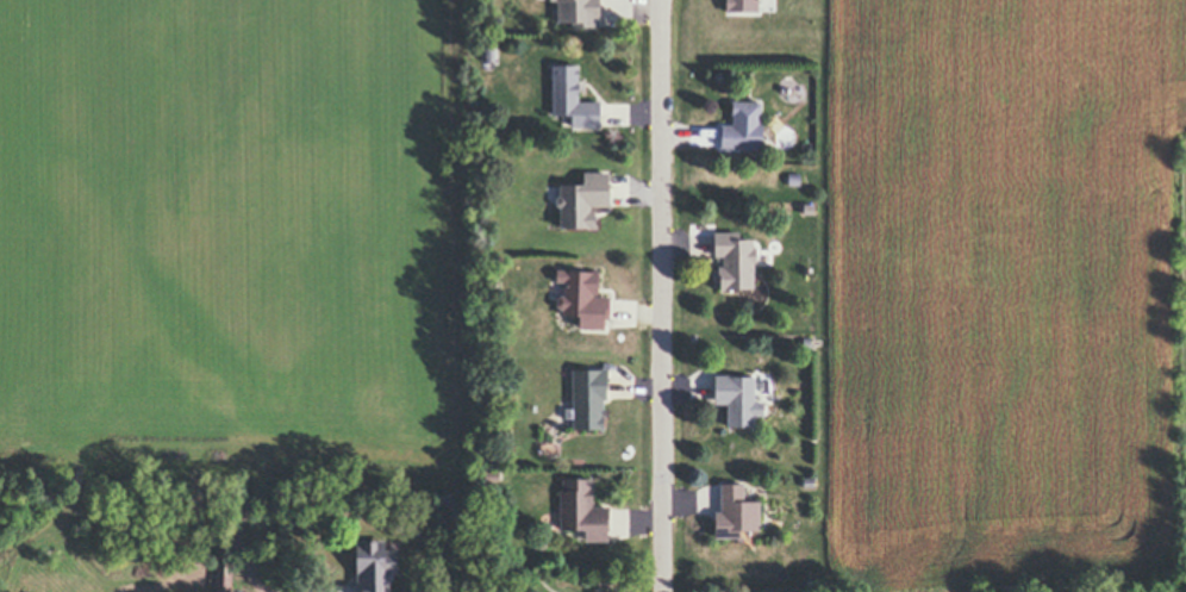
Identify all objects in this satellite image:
building: (744, 6)
building: (582, 11)
building: (493, 54)
building: (789, 89)
building: (805, 94)
building: (574, 96)
building: (744, 126)
building: (485, 176)
building: (795, 177)
building: (586, 200)
building: (810, 207)
building: (735, 263)
road: (663, 295)
building: (583, 297)
building: (806, 342)
building: (506, 381)
building: (592, 398)
building: (739, 399)
building: (572, 412)
building: (497, 475)
building: (809, 481)
building: (586, 509)
building: (737, 511)
building: (376, 559)
building: (811, 582)

